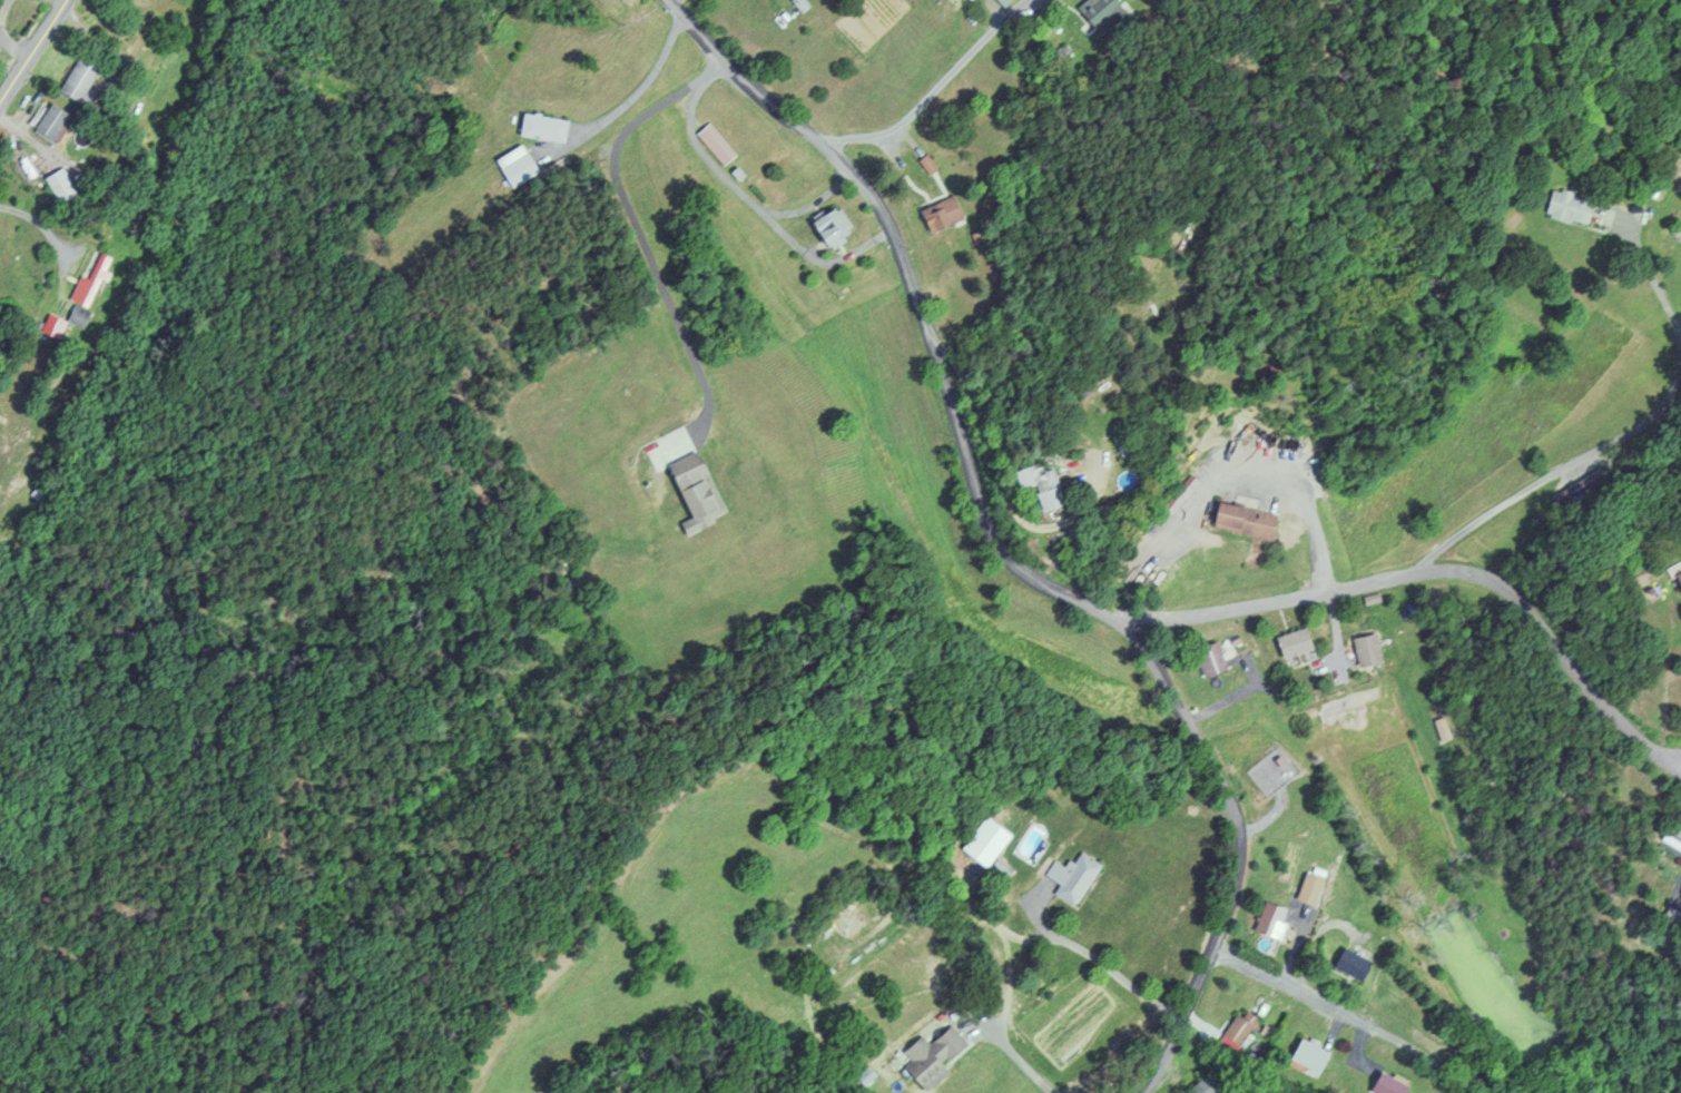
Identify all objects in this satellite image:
building: (798, 4)
building: (1100, 13)
road: (14, 46)
road: (32, 53)
building: (85, 77)
road: (643, 83)
road: (934, 87)
building: (57, 120)
building: (547, 126)
building: (718, 142)
building: (62, 186)
building: (1564, 206)
road: (755, 207)
road: (808, 208)
building: (938, 214)
building: (826, 226)
road: (641, 244)
road: (1650, 274)
building: (95, 280)
building: (83, 316)
building: (56, 324)
road: (1545, 479)
building: (1035, 484)
building: (700, 486)
building: (1170, 501)
building: (1236, 519)
road: (1004, 554)
road: (1443, 569)
building: (1677, 577)
building: (1289, 641)
building: (1363, 648)
building: (1206, 658)
road: (1680, 767)
road: (1680, 769)
building: (982, 840)
building: (1069, 875)
building: (1305, 887)
building: (1679, 896)
building: (842, 918)
building: (1267, 919)
building: (1348, 963)
road: (1341, 1014)
building: (1235, 1036)
building: (927, 1055)
building: (1307, 1055)
building: (1384, 1084)
building: (1207, 1085)

